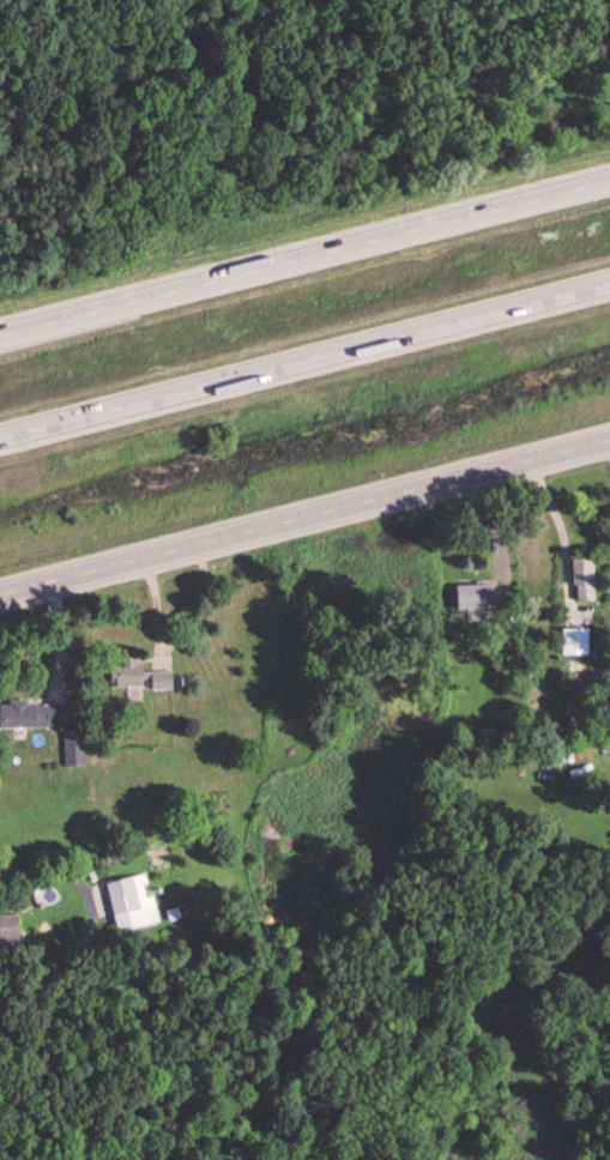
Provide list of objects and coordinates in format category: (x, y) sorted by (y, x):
road: (304, 268)
road: (304, 371)
road: (304, 530)
building: (585, 581)
building: (481, 597)
building: (578, 642)
building: (139, 676)
building: (35, 715)
road: (43, 872)
building: (132, 904)
building: (11, 929)

